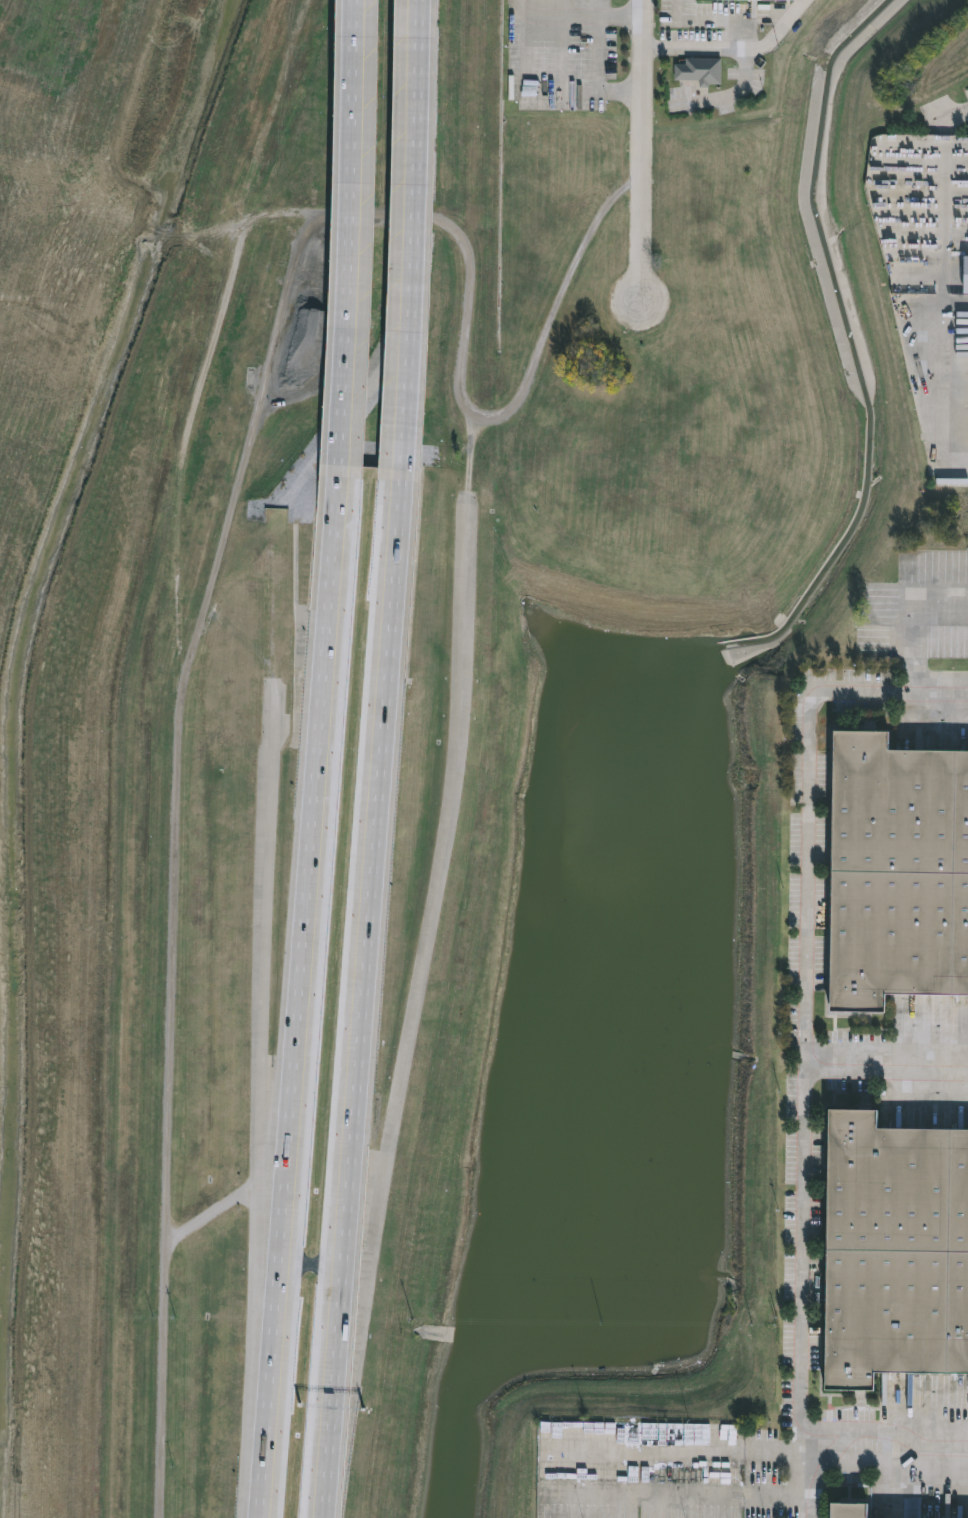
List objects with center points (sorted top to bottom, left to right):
building: (753, 0)
road: (573, 16)
road: (713, 21)
road: (733, 54)
building: (701, 72)
road: (547, 91)
road: (952, 119)
road: (639, 151)
road: (943, 208)
road: (368, 217)
road: (357, 232)
road: (412, 234)
road: (942, 383)
building: (256, 515)
building: (301, 515)
road: (229, 517)
building: (464, 583)
road: (808, 801)
building: (899, 875)
road: (436, 886)
park: (138, 927)
road: (299, 991)
road: (363, 993)
road: (169, 1098)
road: (802, 1170)
road: (227, 1204)
building: (896, 1252)
building: (690, 1434)
building: (762, 1437)
road: (852, 1439)
building: (692, 1473)
building: (852, 1510)

